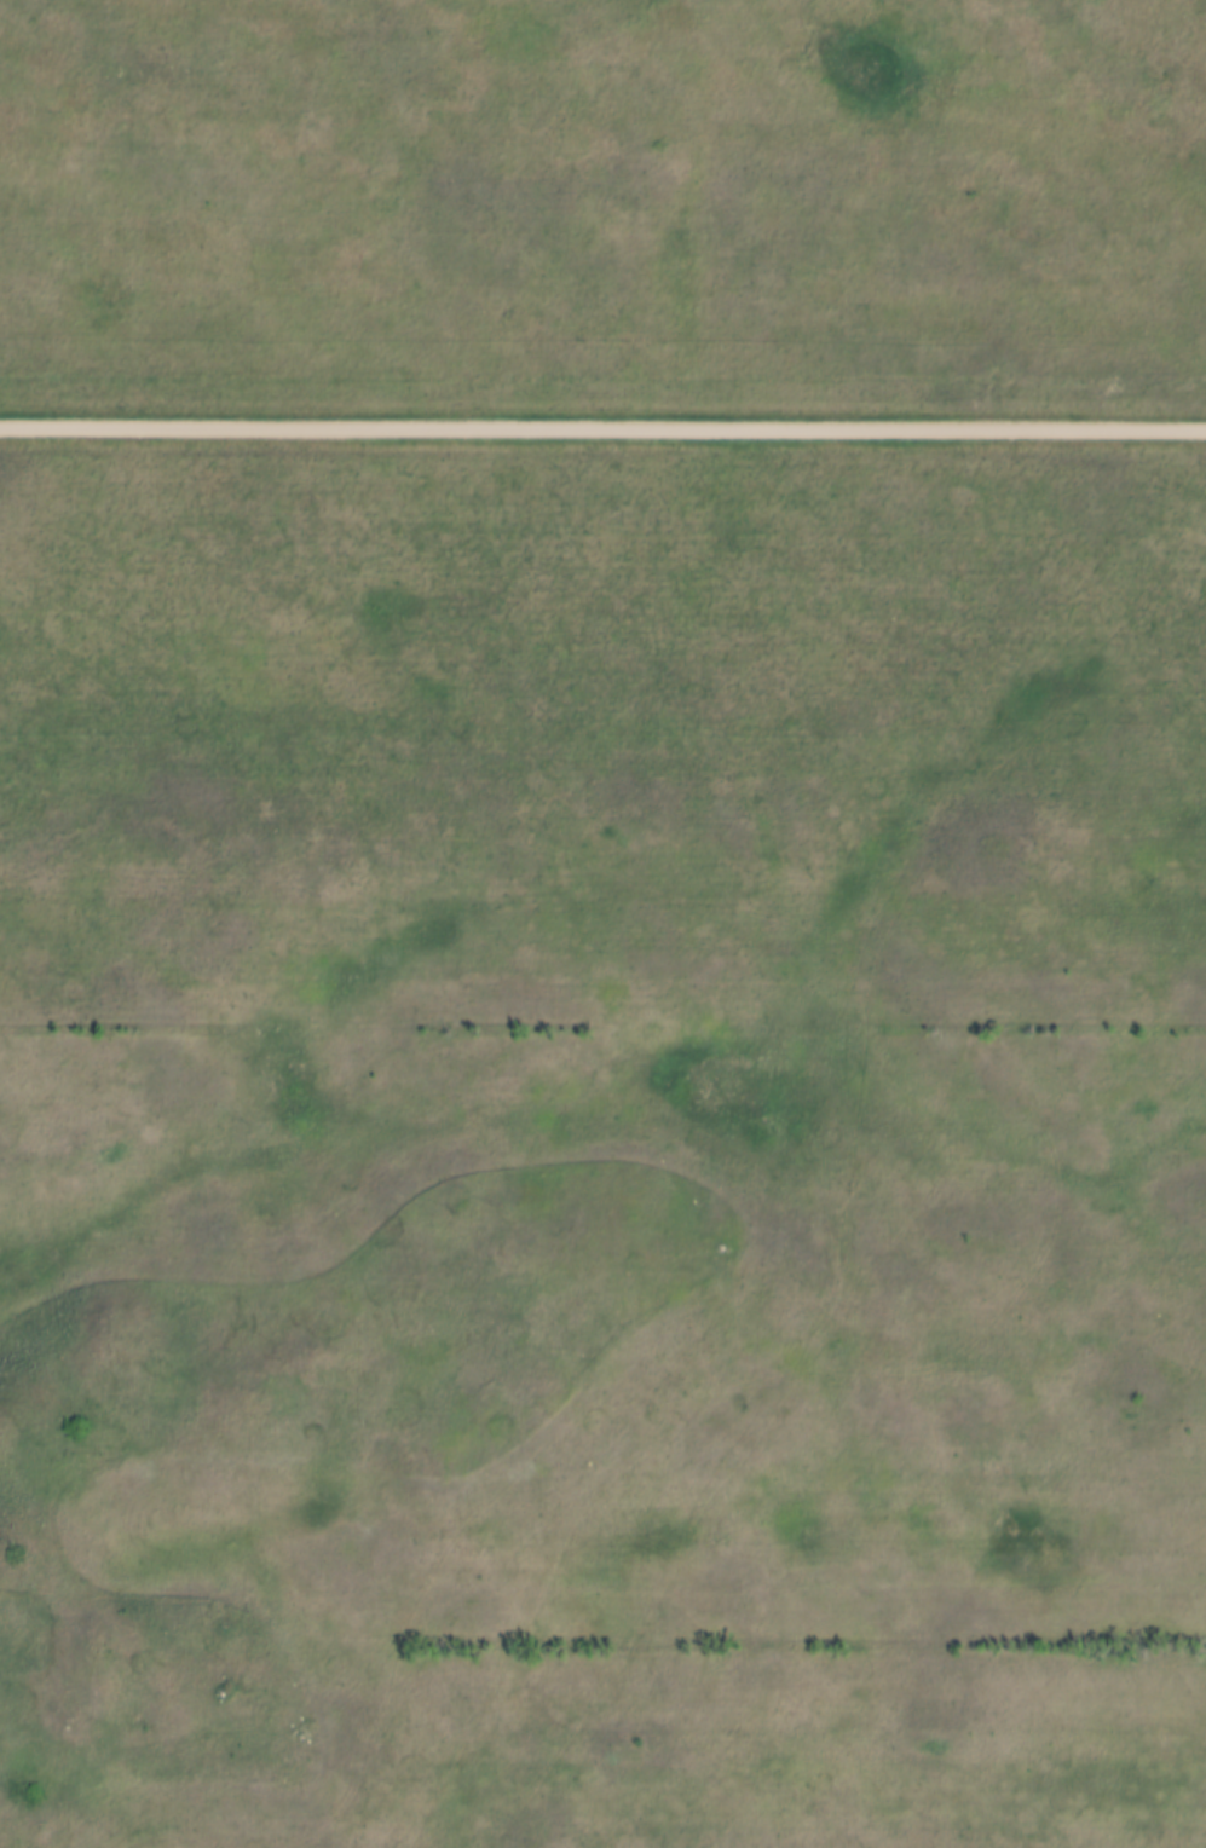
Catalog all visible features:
road: (602, 425)

